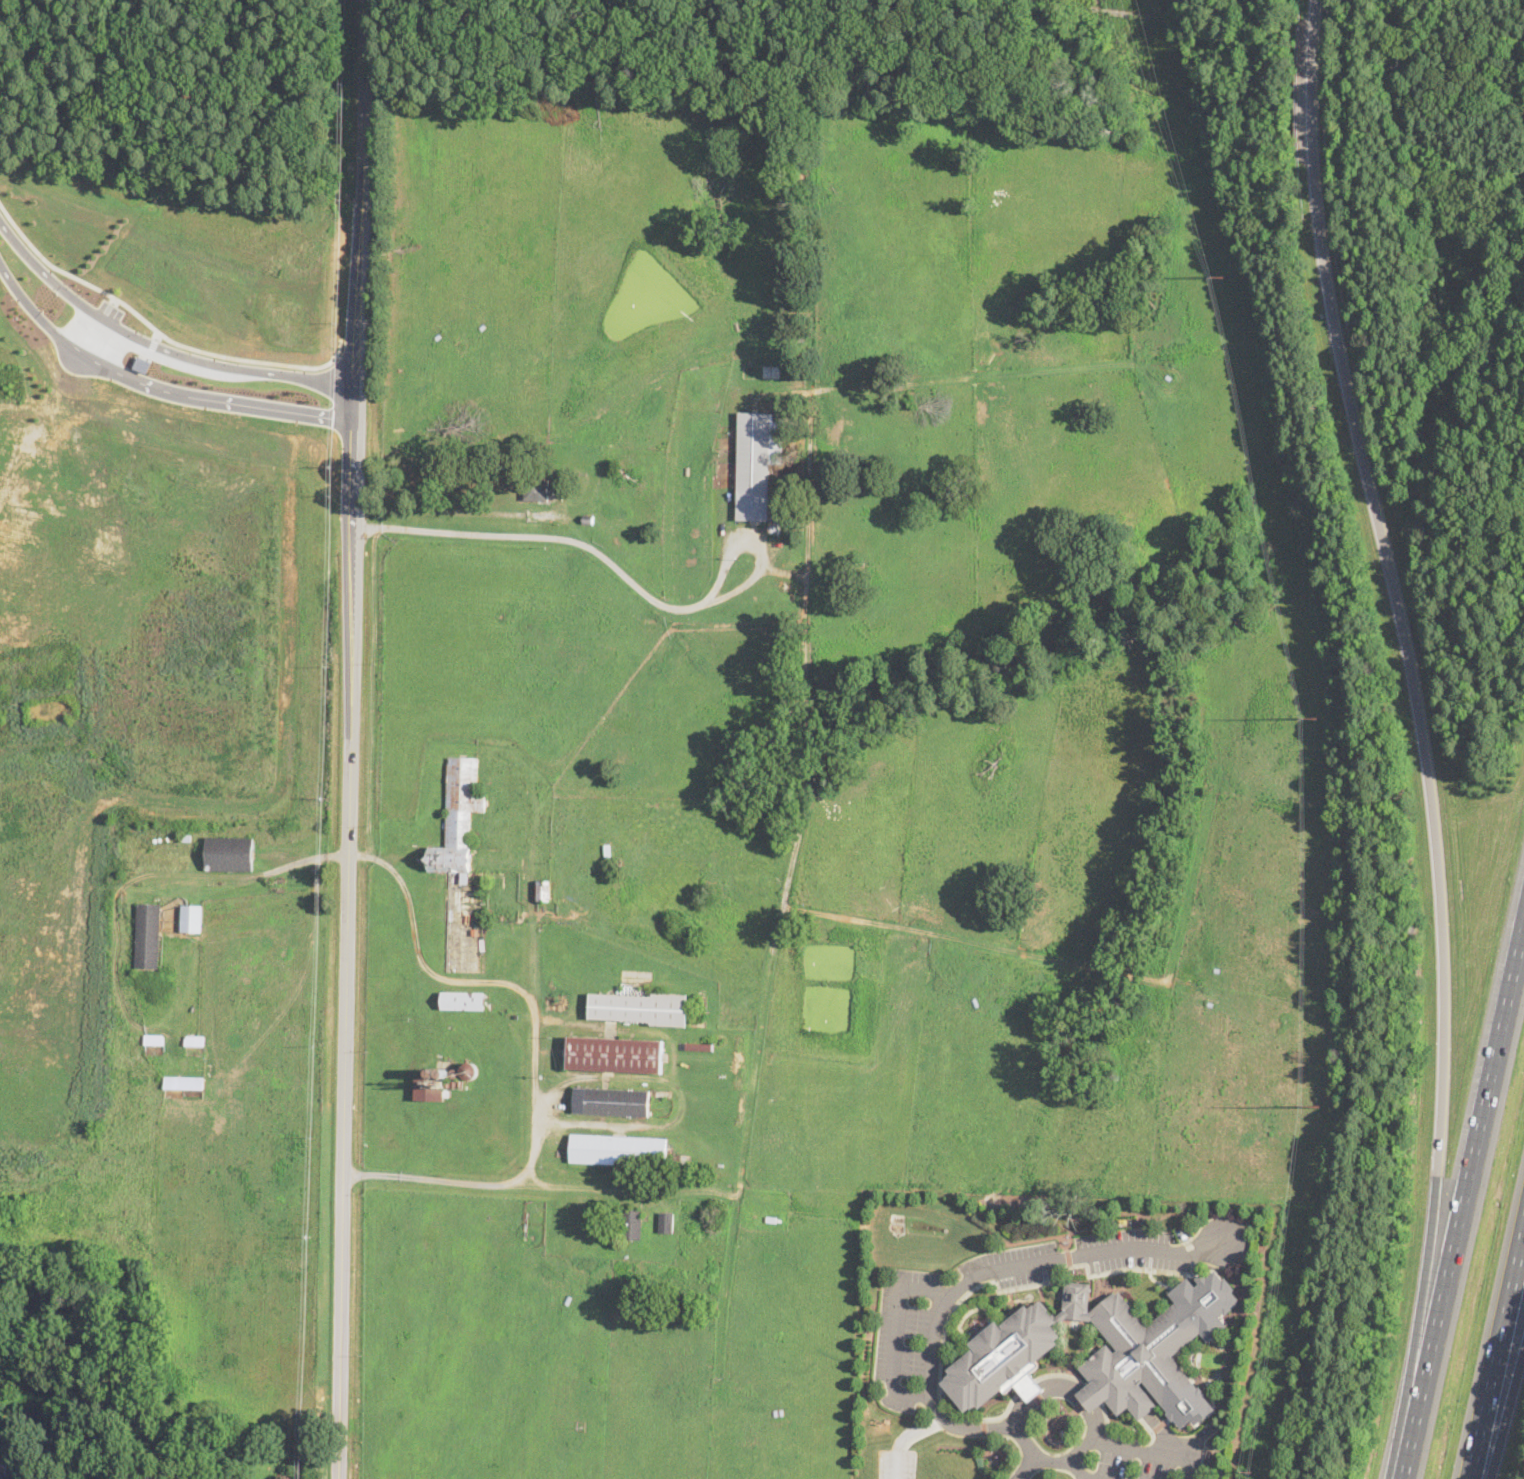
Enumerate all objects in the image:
power tower: (1225, 276)
road: (156, 330)
road: (153, 367)
building: (757, 464)
building: (537, 491)
building: (775, 508)
road: (456, 510)
building: (774, 513)
building: (587, 520)
building: (772, 528)
road: (543, 537)
road: (753, 547)
building: (526, 625)
power tower: (1316, 717)
road: (1421, 736)
road: (352, 739)
building: (459, 817)
building: (185, 838)
building: (607, 850)
building: (229, 854)
building: (478, 887)
building: (543, 890)
building: (191, 919)
road: (410, 931)
building: (147, 935)
road: (531, 947)
building: (462, 1001)
building: (974, 1001)
building: (640, 1008)
building: (155, 1040)
building: (194, 1041)
building: (700, 1048)
building: (154, 1049)
building: (614, 1055)
building: (468, 1070)
building: (433, 1072)
building: (443, 1072)
building: (451, 1077)
road: (589, 1079)
building: (184, 1083)
building: (430, 1089)
building: (611, 1102)
power tower: (1315, 1106)
building: (618, 1150)
road: (507, 1184)
road: (695, 1191)
road: (1463, 1205)
building: (772, 1220)
building: (666, 1223)
building: (632, 1225)
road: (976, 1274)
road: (893, 1336)
building: (1101, 1351)
road: (1497, 1356)
road: (1502, 1408)
road: (1091, 1409)
road: (1163, 1431)
road: (902, 1437)
road: (1196, 1439)
road: (1149, 1450)
road: (1025, 1467)
road: (1076, 1470)
power tower: (1250, 1472)
building: (3, 1473)

